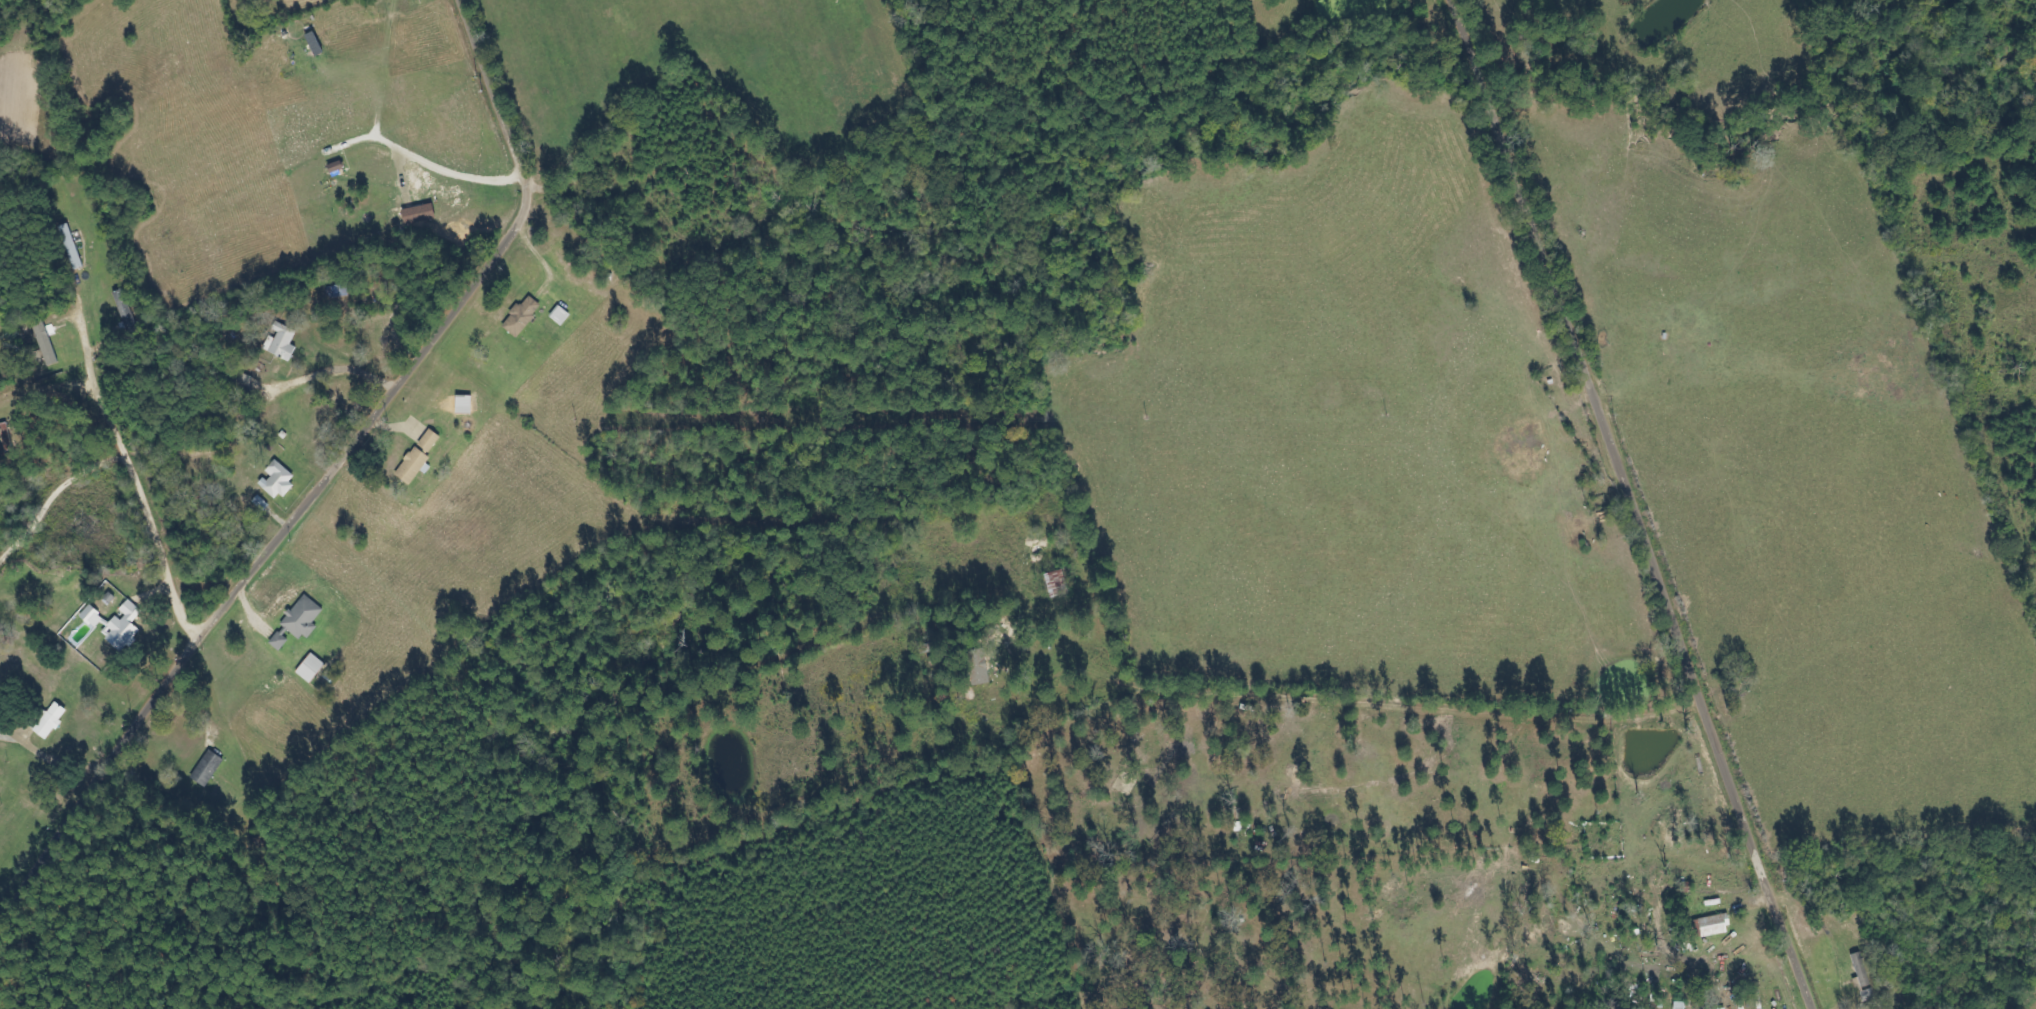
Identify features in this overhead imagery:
building: (71, 247)
building: (522, 316)
building: (280, 342)
building: (45, 343)
building: (463, 405)
building: (428, 442)
building: (413, 466)
road: (328, 474)
building: (277, 481)
road: (138, 491)
road: (1630, 504)
building: (1054, 582)
building: (93, 617)
building: (298, 622)
building: (123, 627)
building: (978, 667)
building: (310, 668)
road: (1389, 717)
building: (50, 721)
building: (207, 769)
building: (1713, 925)
building: (1863, 977)
building: (1867, 996)

